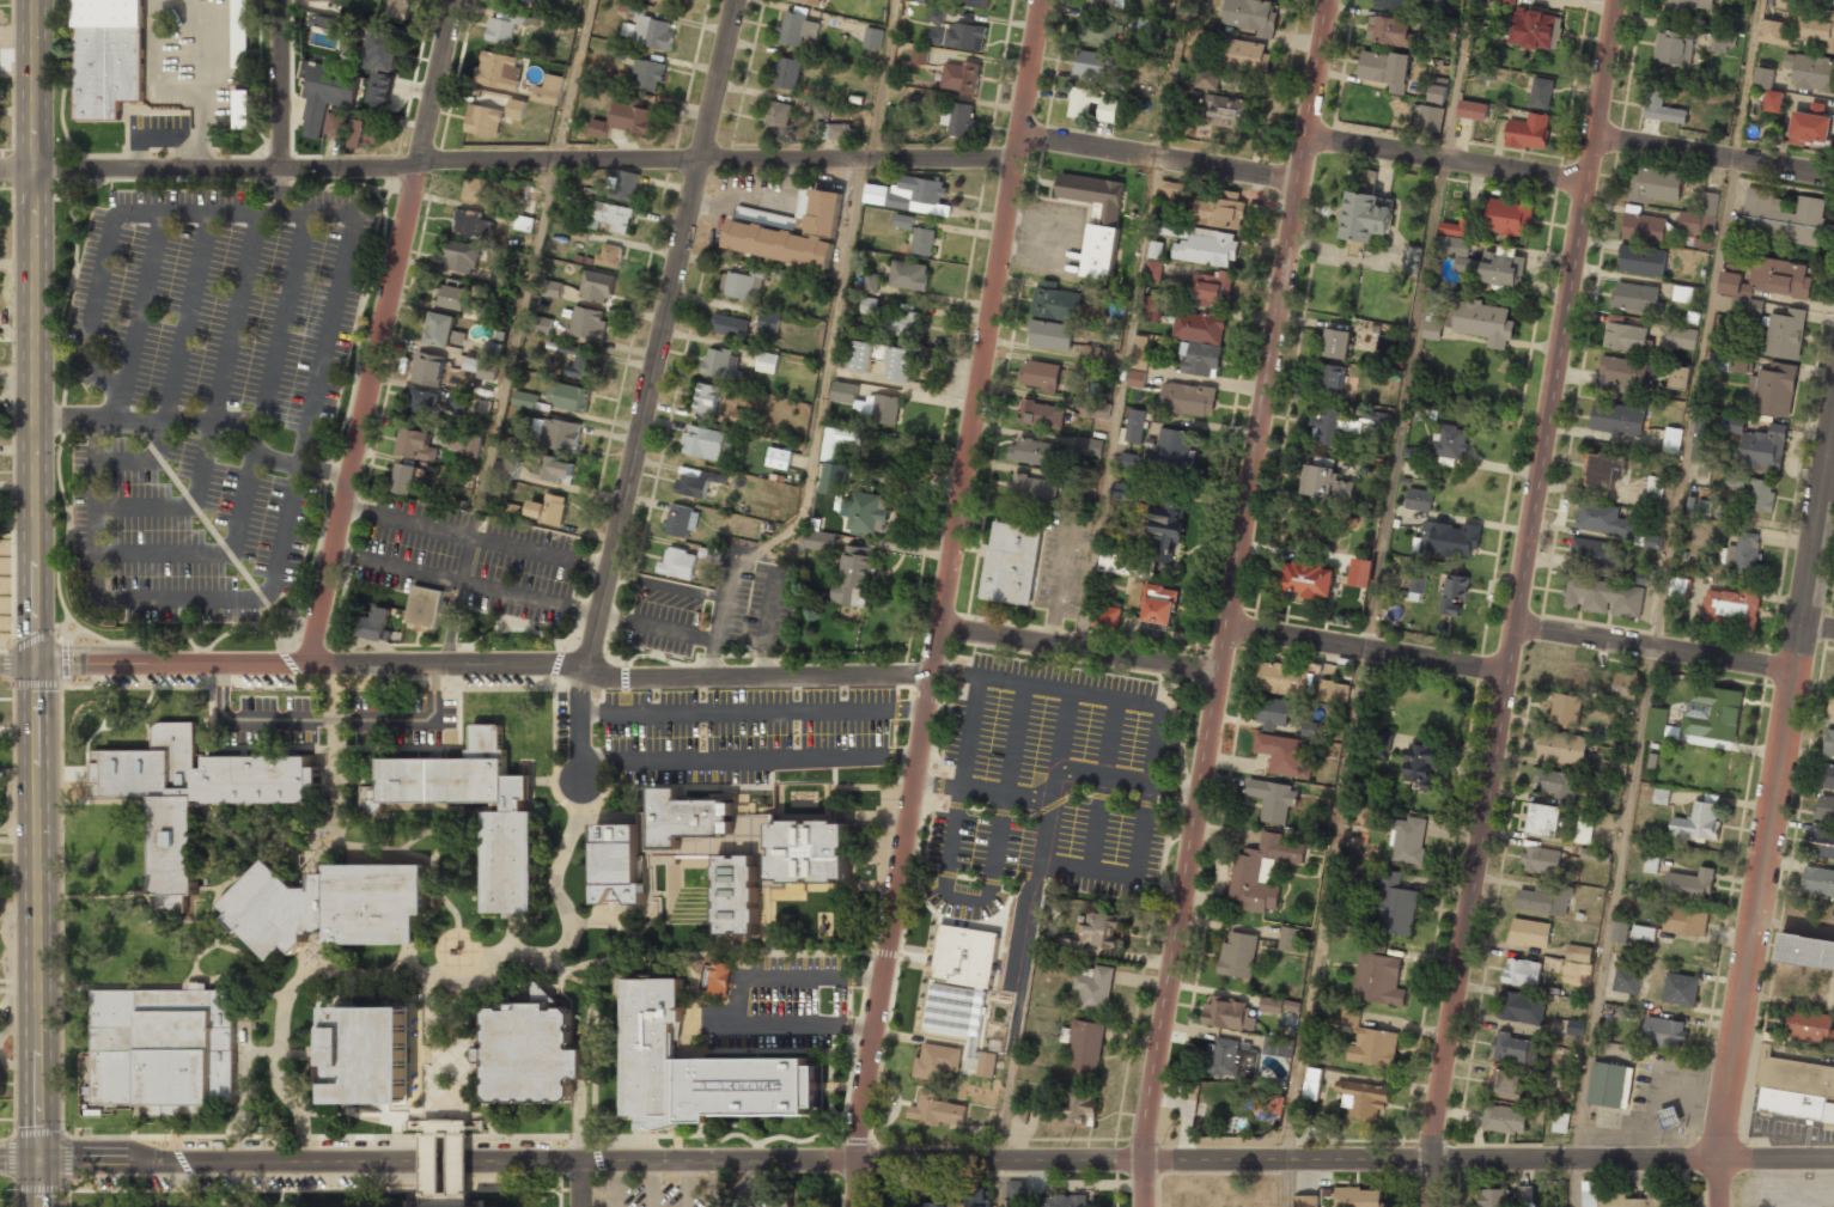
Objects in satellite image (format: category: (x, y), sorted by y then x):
building: (325, 0)
building: (665, 0)
building: (1156, 0)
building: (808, 1)
building: (1443, 1)
building: (1506, 1)
building: (522, 2)
building: (977, 2)
building: (1102, 2)
building: (1389, 4)
building: (1786, 4)
building: (1692, 5)
building: (396, 8)
building: (936, 16)
building: (1251, 16)
building: (502, 26)
building: (1817, 26)
building: (1148, 28)
building: (797, 29)
building: (1097, 29)
building: (1535, 29)
building: (650, 30)
building: (1389, 31)
building: (1774, 32)
building: (240, 33)
building: (964, 37)
building: (873, 38)
building: (1723, 39)
building: (1674, 47)
building: (382, 49)
building: (1244, 54)
building: (108, 56)
building: (919, 56)
building: (1092, 65)
building: (499, 69)
building: (1385, 69)
building: (1810, 72)
building: (787, 73)
building: (648, 74)
building: (1483, 74)
building: (961, 77)
building: (1207, 78)
building: (1763, 78)
road: (882, 79)
road: (202, 83)
road: (279, 83)
building: (548, 90)
building: (1438, 90)
building: (380, 91)
building: (1541, 92)
building: (327, 93)
building: (1773, 100)
building: (1662, 105)
building: (242, 109)
building: (516, 109)
building: (1079, 109)
building: (1472, 110)
building: (1227, 111)
building: (776, 116)
building: (957, 118)
building: (1430, 118)
building: (624, 120)
building: (483, 121)
building: (336, 124)
building: (833, 126)
building: (1811, 127)
building: (1528, 132)
building: (366, 133)
road: (1714, 154)
road: (1163, 159)
road: (1449, 160)
road: (508, 163)
building: (623, 185)
building: (1655, 185)
building: (519, 187)
road: (280, 189)
building: (1175, 189)
building: (477, 190)
building: (910, 195)
building: (1093, 195)
building: (1221, 211)
building: (1701, 215)
building: (610, 217)
building: (1366, 217)
building: (1509, 218)
building: (1781, 218)
building: (903, 221)
building: (470, 222)
building: (523, 222)
building: (749, 224)
building: (1456, 228)
building: (1650, 228)
building: (1174, 230)
building: (924, 240)
building: (1701, 243)
road: (1144, 244)
building: (1207, 248)
building: (1101, 251)
road: (532, 254)
building: (610, 255)
building: (462, 257)
building: (1413, 260)
building: (1641, 261)
building: (1153, 269)
building: (1503, 269)
building: (908, 275)
building: (501, 279)
building: (871, 282)
building: (1763, 282)
building: (743, 285)
building: (597, 286)
building: (552, 288)
building: (1212, 288)
building: (1682, 293)
building: (451, 297)
building: (1635, 297)
building: (1055, 301)
building: (869, 305)
building: (1153, 309)
road: (139, 317)
road: (284, 318)
building: (769, 321)
building: (587, 322)
building: (901, 322)
building: (1482, 322)
building: (540, 324)
building: (730, 325)
building: (1432, 329)
building: (443, 330)
road: (382, 331)
road: (659, 334)
building: (1785, 334)
building: (1050, 335)
building: (1623, 335)
building: (1680, 337)
road: (831, 341)
building: (1200, 341)
building: (1388, 342)
building: (1336, 343)
building: (1139, 352)
building: (861, 355)
road: (322, 360)
building: (491, 360)
building: (579, 361)
building: (768, 362)
building: (1731, 362)
road: (177, 364)
building: (470, 364)
building: (721, 364)
building: (900, 364)
building: (428, 368)
building: (1626, 371)
building: (1040, 374)
building: (1680, 377)
building: (1137, 378)
building: (1330, 378)
building: (1772, 390)
building: (845, 392)
road: (352, 394)
building: (569, 397)
building: (707, 398)
building: (1188, 398)
building: (525, 400)
building: (459, 403)
building: (424, 404)
road: (218, 406)
road: (62, 407)
building: (886, 409)
building: (1095, 409)
building: (1042, 414)
building: (739, 416)
building: (1617, 419)
road: (207, 420)
building: (1135, 426)
building: (1341, 426)
building: (555, 433)
building: (1702, 437)
building: (1671, 440)
building: (464, 443)
building: (705, 443)
building: (1449, 443)
building: (415, 444)
building: (1759, 444)
building: (1089, 446)
building: (1174, 449)
building: (1034, 452)
building: (779, 458)
building: (1131, 461)
building: (507, 468)
building: (554, 469)
building: (1603, 469)
building: (406, 478)
building: (695, 481)
building: (1326, 486)
building: (1034, 489)
building: (1655, 489)
building: (1755, 489)
building: (1123, 490)
building: (1419, 499)
building: (824, 507)
building: (1704, 507)
building: (548, 508)
building: (512, 510)
building: (869, 512)
building: (1169, 516)
building: (1604, 519)
building: (682, 520)
road: (475, 537)
building: (1450, 540)
building: (819, 541)
building: (1651, 541)
building: (1159, 548)
building: (1742, 551)
road: (213, 553)
building: (1596, 554)
road: (748, 559)
building: (678, 563)
building: (1011, 563)
building: (1361, 572)
building: (854, 575)
building: (1635, 577)
building: (1310, 579)
road: (666, 584)
building: (1415, 589)
building: (1678, 589)
building: (1454, 595)
road: (524, 596)
building: (1604, 597)
road: (1227, 602)
road: (1518, 602)
road: (32, 603)
road: (944, 603)
road: (1373, 603)
road: (1662, 603)
building: (1159, 604)
building: (424, 605)
building: (1732, 606)
building: (1107, 617)
building: (377, 623)
road: (1817, 629)
road: (485, 634)
road: (1655, 644)
road: (1078, 650)
road: (1364, 650)
road: (483, 659)
road: (17, 666)
traffic signals: (33, 667)
building: (1281, 678)
building: (1626, 683)
road: (250, 687)
building: (1333, 691)
building: (1565, 708)
road: (753, 709)
building: (1832, 711)
road: (142, 712)
building: (1275, 712)
building: (1712, 712)
road: (422, 718)
road: (260, 719)
building: (1655, 724)
road: (1157, 726)
road: (105, 727)
building: (1310, 729)
road: (93, 733)
building: (1671, 733)
road: (554, 742)
building: (1829, 743)
building: (1562, 748)
building: (1284, 755)
road: (701, 760)
building: (1421, 764)
building: (1827, 776)
building: (257, 778)
road: (1056, 782)
building: (1558, 782)
road: (86, 784)
road: (1104, 785)
road: (669, 786)
building: (1661, 795)
building: (1273, 799)
building: (160, 803)
building: (1824, 809)
road: (1769, 815)
building: (683, 818)
building: (1544, 819)
building: (1698, 822)
building: (1584, 828)
road: (286, 830)
road: (1044, 839)
road: (331, 840)
building: (1407, 840)
building: (1821, 840)
building: (810, 851)
building: (1595, 855)
building: (1541, 859)
building: (512, 862)
road: (433, 864)
building: (617, 864)
building: (1651, 864)
building: (1262, 871)
road: (912, 876)
building: (1818, 882)
building: (1689, 885)
building: (738, 894)
road: (963, 897)
building: (1544, 900)
building: (330, 906)
building: (1394, 906)
road: (212, 908)
road: (61, 912)
building: (1686, 921)
building: (1098, 928)
building: (1632, 932)
building: (1530, 933)
building: (1290, 939)
road: (479, 949)
building: (455, 951)
building: (1806, 951)
road: (811, 952)
building: (1579, 952)
building: (1238, 955)
road: (359, 968)
building: (1523, 973)
road: (197, 975)
building: (1377, 975)
building: (720, 979)
building: (1627, 979)
building: (961, 983)
building: (1093, 987)
road: (864, 989)
building: (1681, 989)
road: (738, 993)
building: (1271, 1005)
building: (1291, 1006)
building: (1521, 1007)
road: (889, 1014)
building: (1227, 1014)
building: (1349, 1017)
road: (593, 1025)
building: (1809, 1025)
road: (866, 1028)
building: (1574, 1028)
building: (1664, 1032)
building: (1086, 1044)
building: (1278, 1047)
building: (1373, 1047)
building: (163, 1049)
building: (1515, 1049)
road: (758, 1050)
building: (653, 1053)
building: (373, 1054)
building: (530, 1055)
building: (1229, 1059)
building: (936, 1061)
building: (986, 1063)
road: (849, 1079)
building: (1311, 1083)
building: (1507, 1085)
building: (753, 1086)
building: (1611, 1087)
building: (1795, 1087)
building: (1363, 1098)
building: (1080, 1105)
building: (1267, 1105)
building: (937, 1110)
building: (1018, 1114)
building: (1504, 1118)
building: (1560, 1122)
building: (1672, 1124)
gas station: (1672, 1124)
road: (330, 1136)
road: (749, 1139)
road: (20, 1154)
traffic signals: (42, 1154)
road: (1774, 1157)
road: (877, 1158)
building: (431, 1163)
road: (432, 1174)
road: (585, 1182)
road: (616, 1182)
road: (651, 1182)
road: (687, 1182)
road: (1000, 1183)
parking lot: (650, 1191)
building: (1016, 1194)
building: (1589, 1194)
building: (977, 1195)
building: (1527, 1195)
road: (319, 1196)
building: (1358, 1197)
building: (1493, 1197)
building: (1064, 1200)
building: (1638, 1200)
building: (1306, 1201)
building: (780, 1205)
building: (934, 1205)
building: (1226, 1206)

